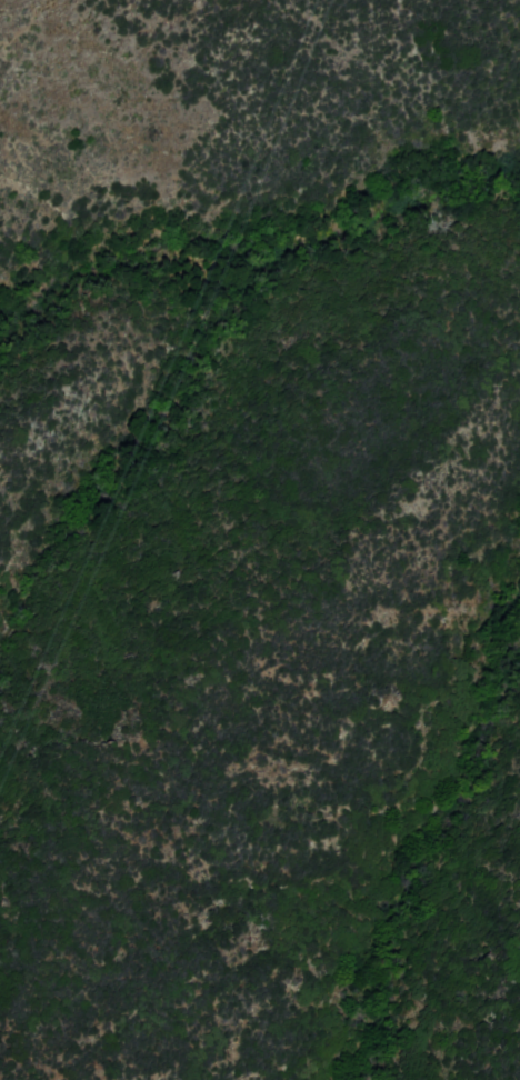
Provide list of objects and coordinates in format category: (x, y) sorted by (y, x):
road: (28, 23)

